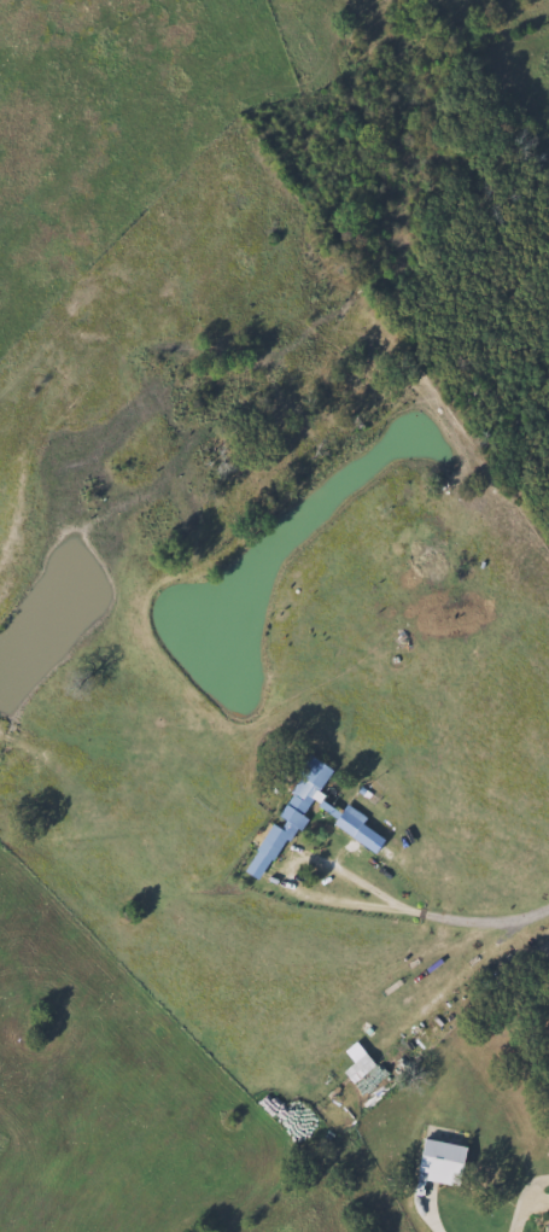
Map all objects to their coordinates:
building: (303, 787)
building: (344, 823)
road: (334, 889)
road: (456, 922)
road: (462, 980)
building: (437, 1162)
road: (526, 1205)
building: (547, 1211)
road: (430, 1216)

